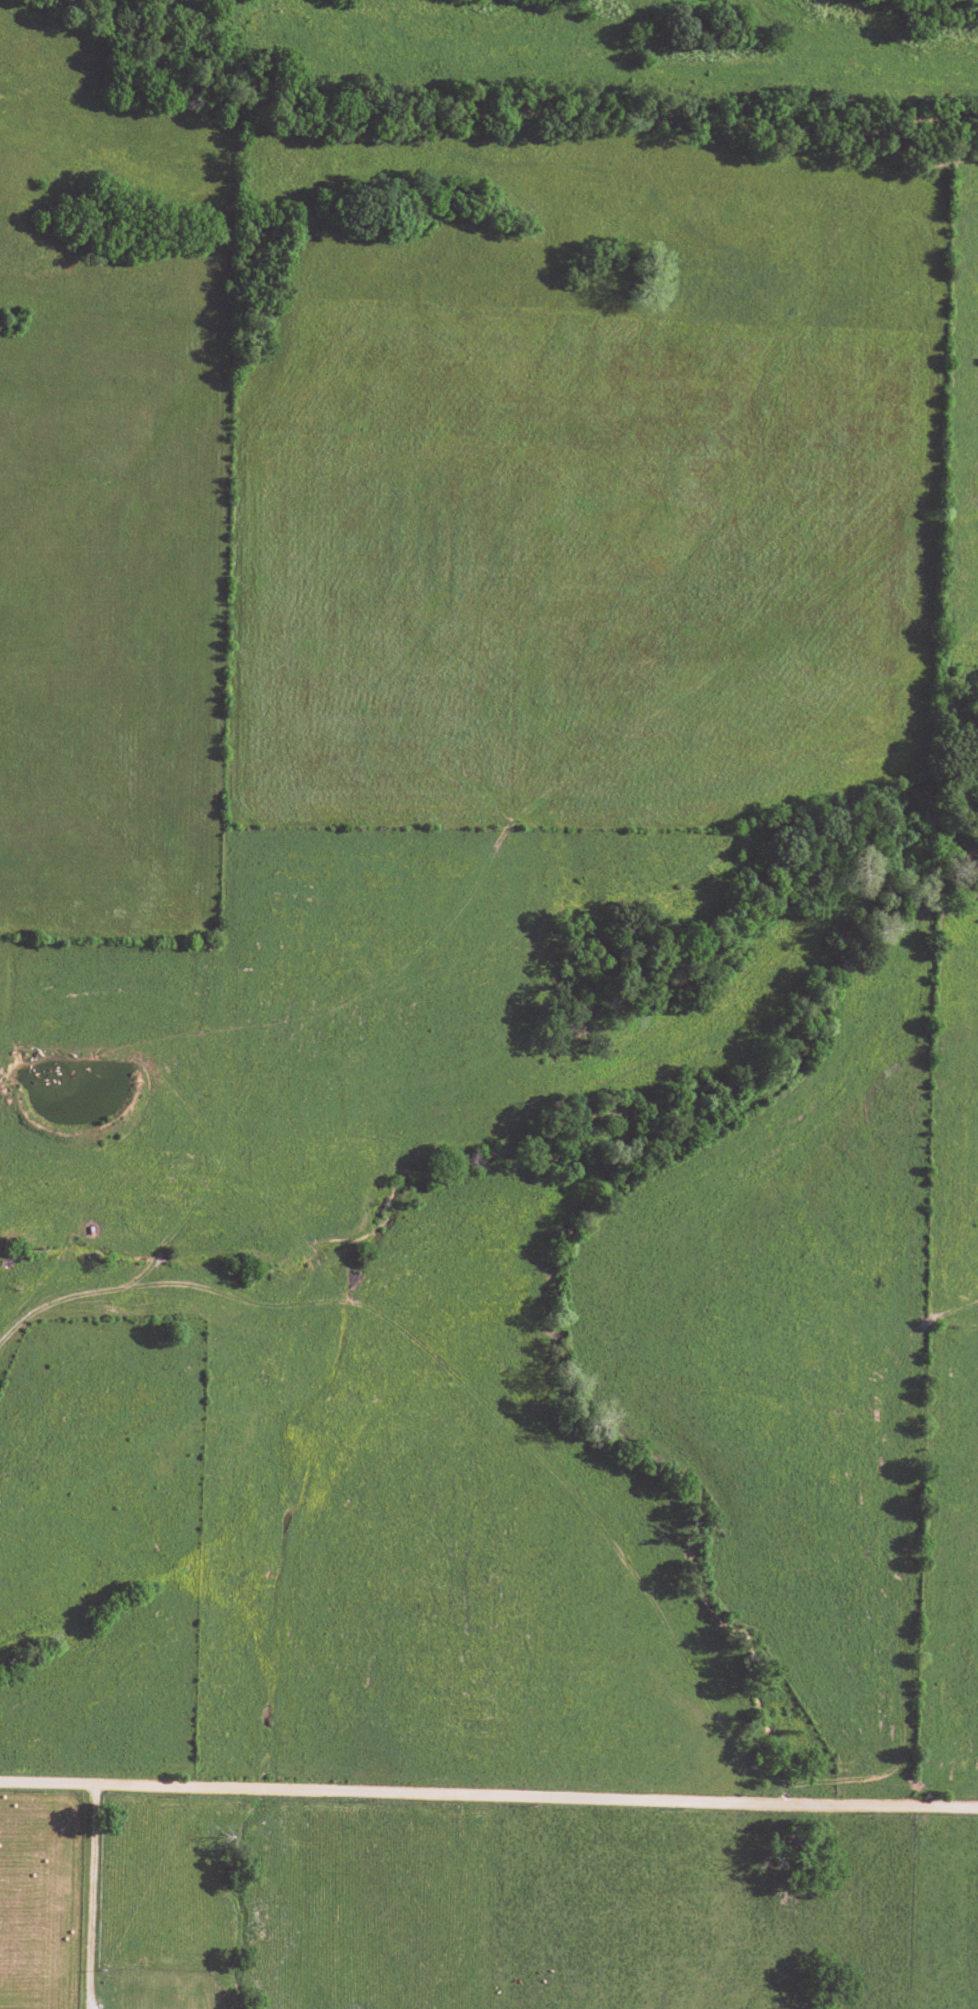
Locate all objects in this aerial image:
road: (488, 1794)

